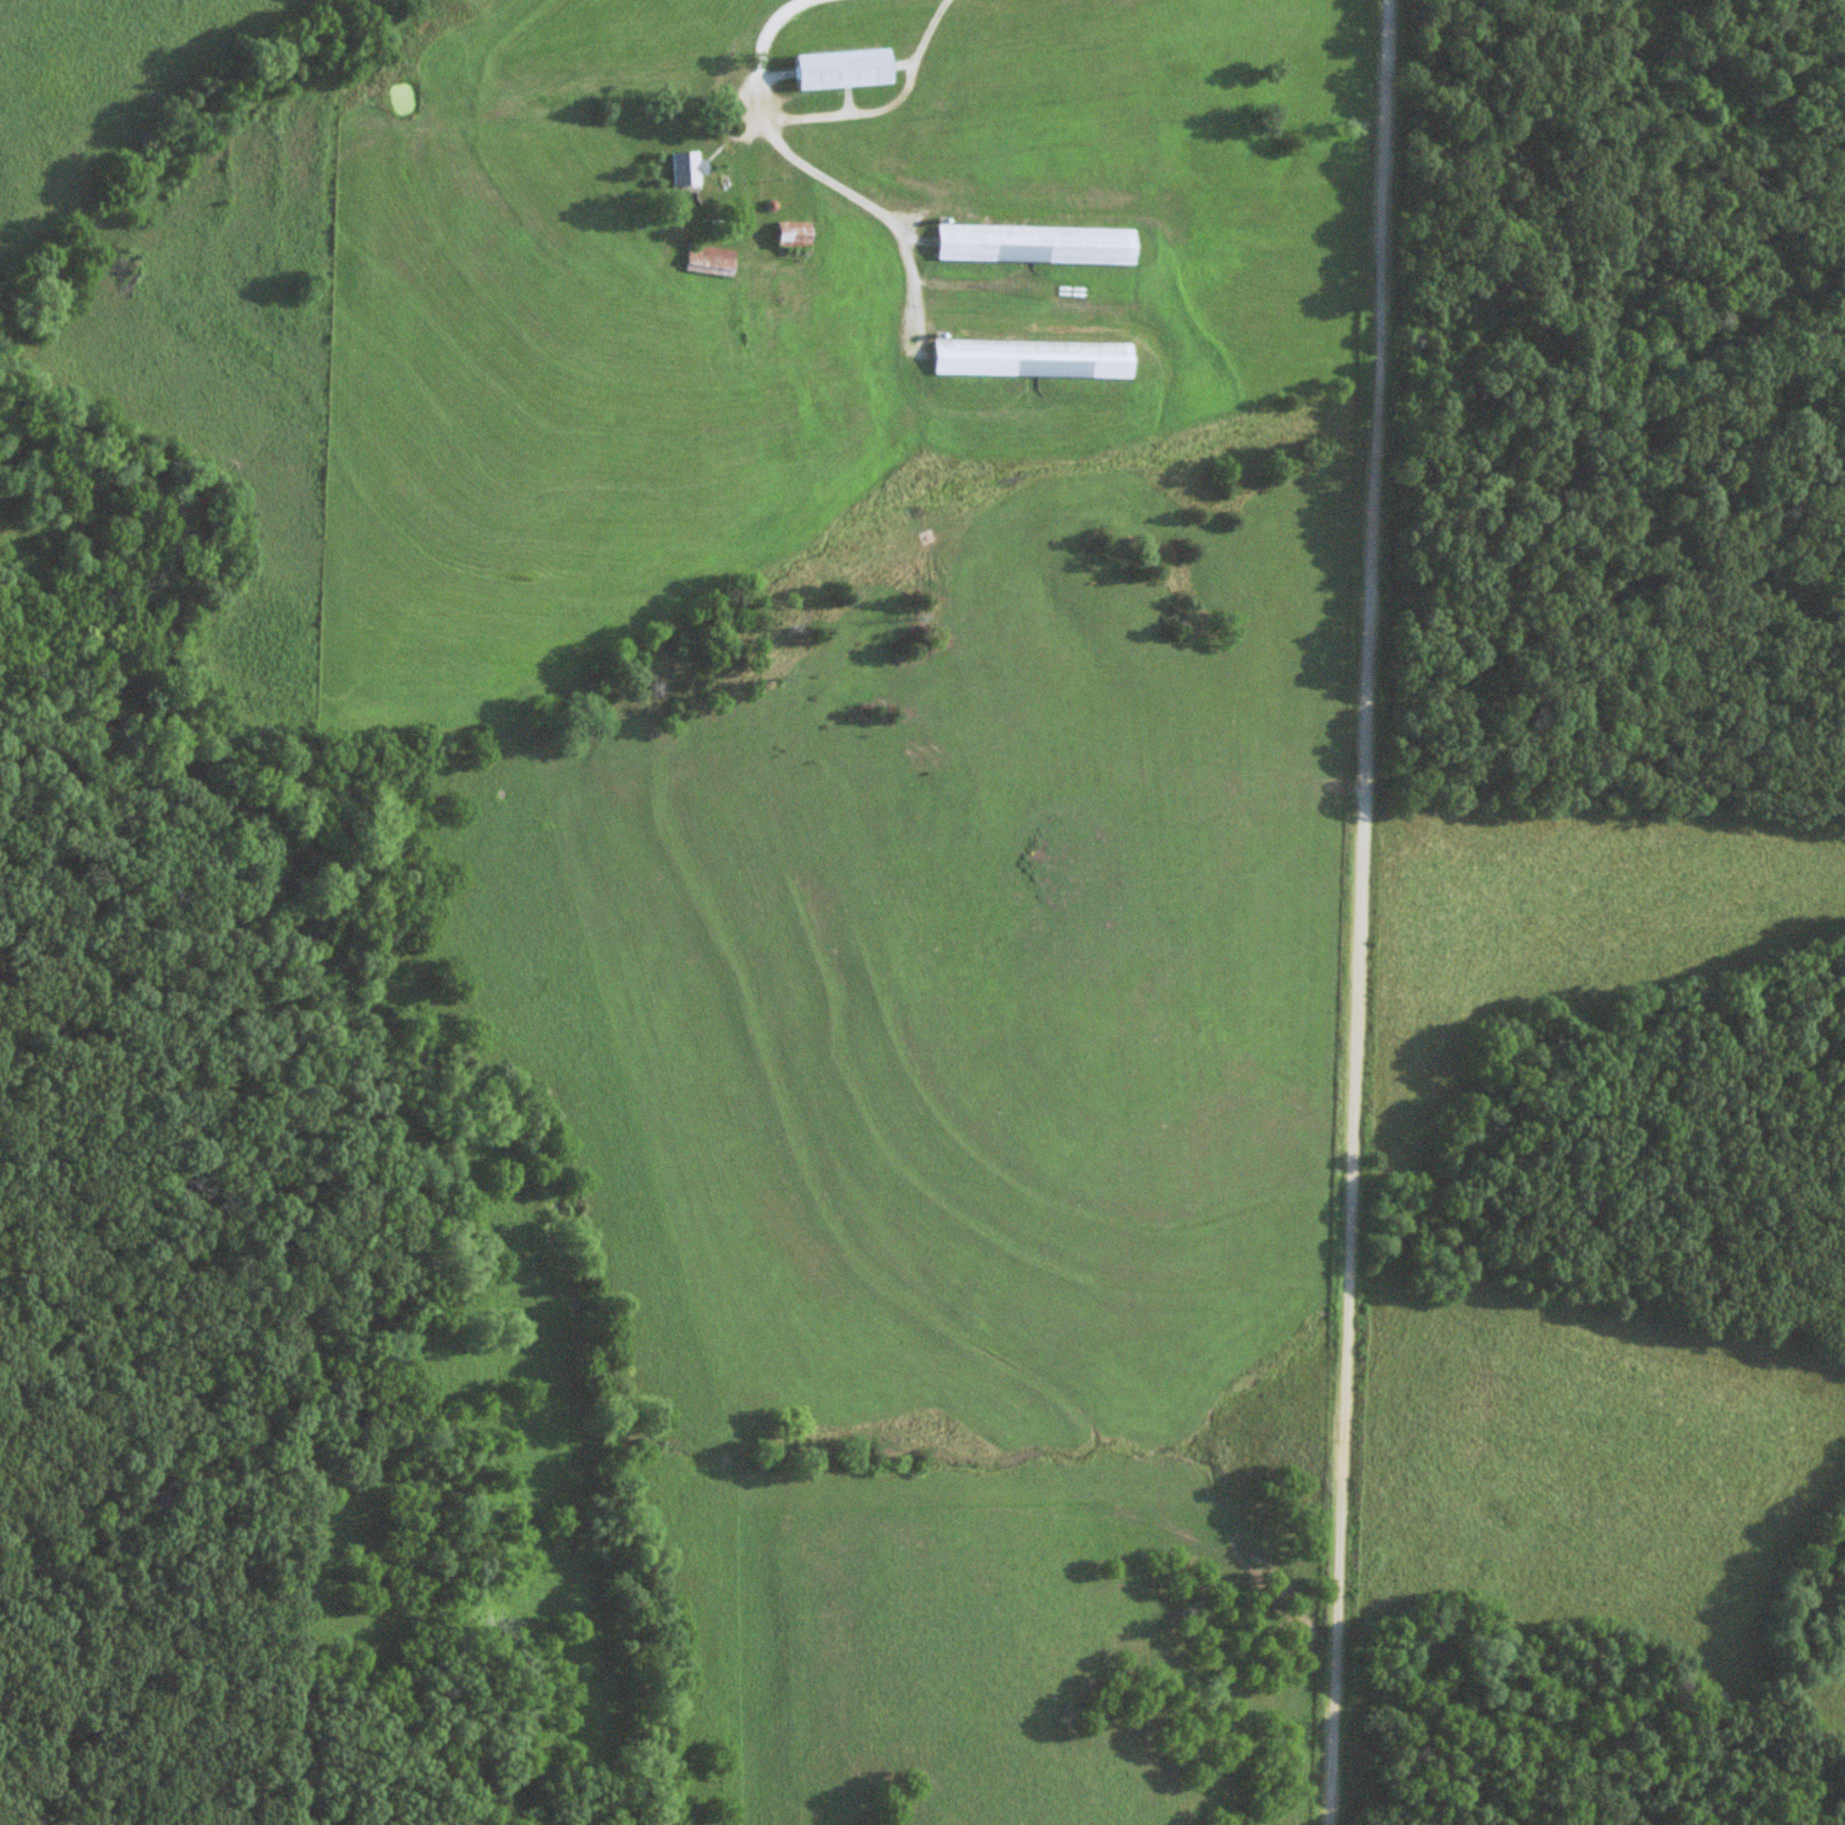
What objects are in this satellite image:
road: (1366, 53)
building: (835, 69)
road: (823, 116)
building: (676, 168)
road: (861, 205)
building: (785, 235)
building: (1030, 244)
building: (1027, 359)
road: (1362, 912)

